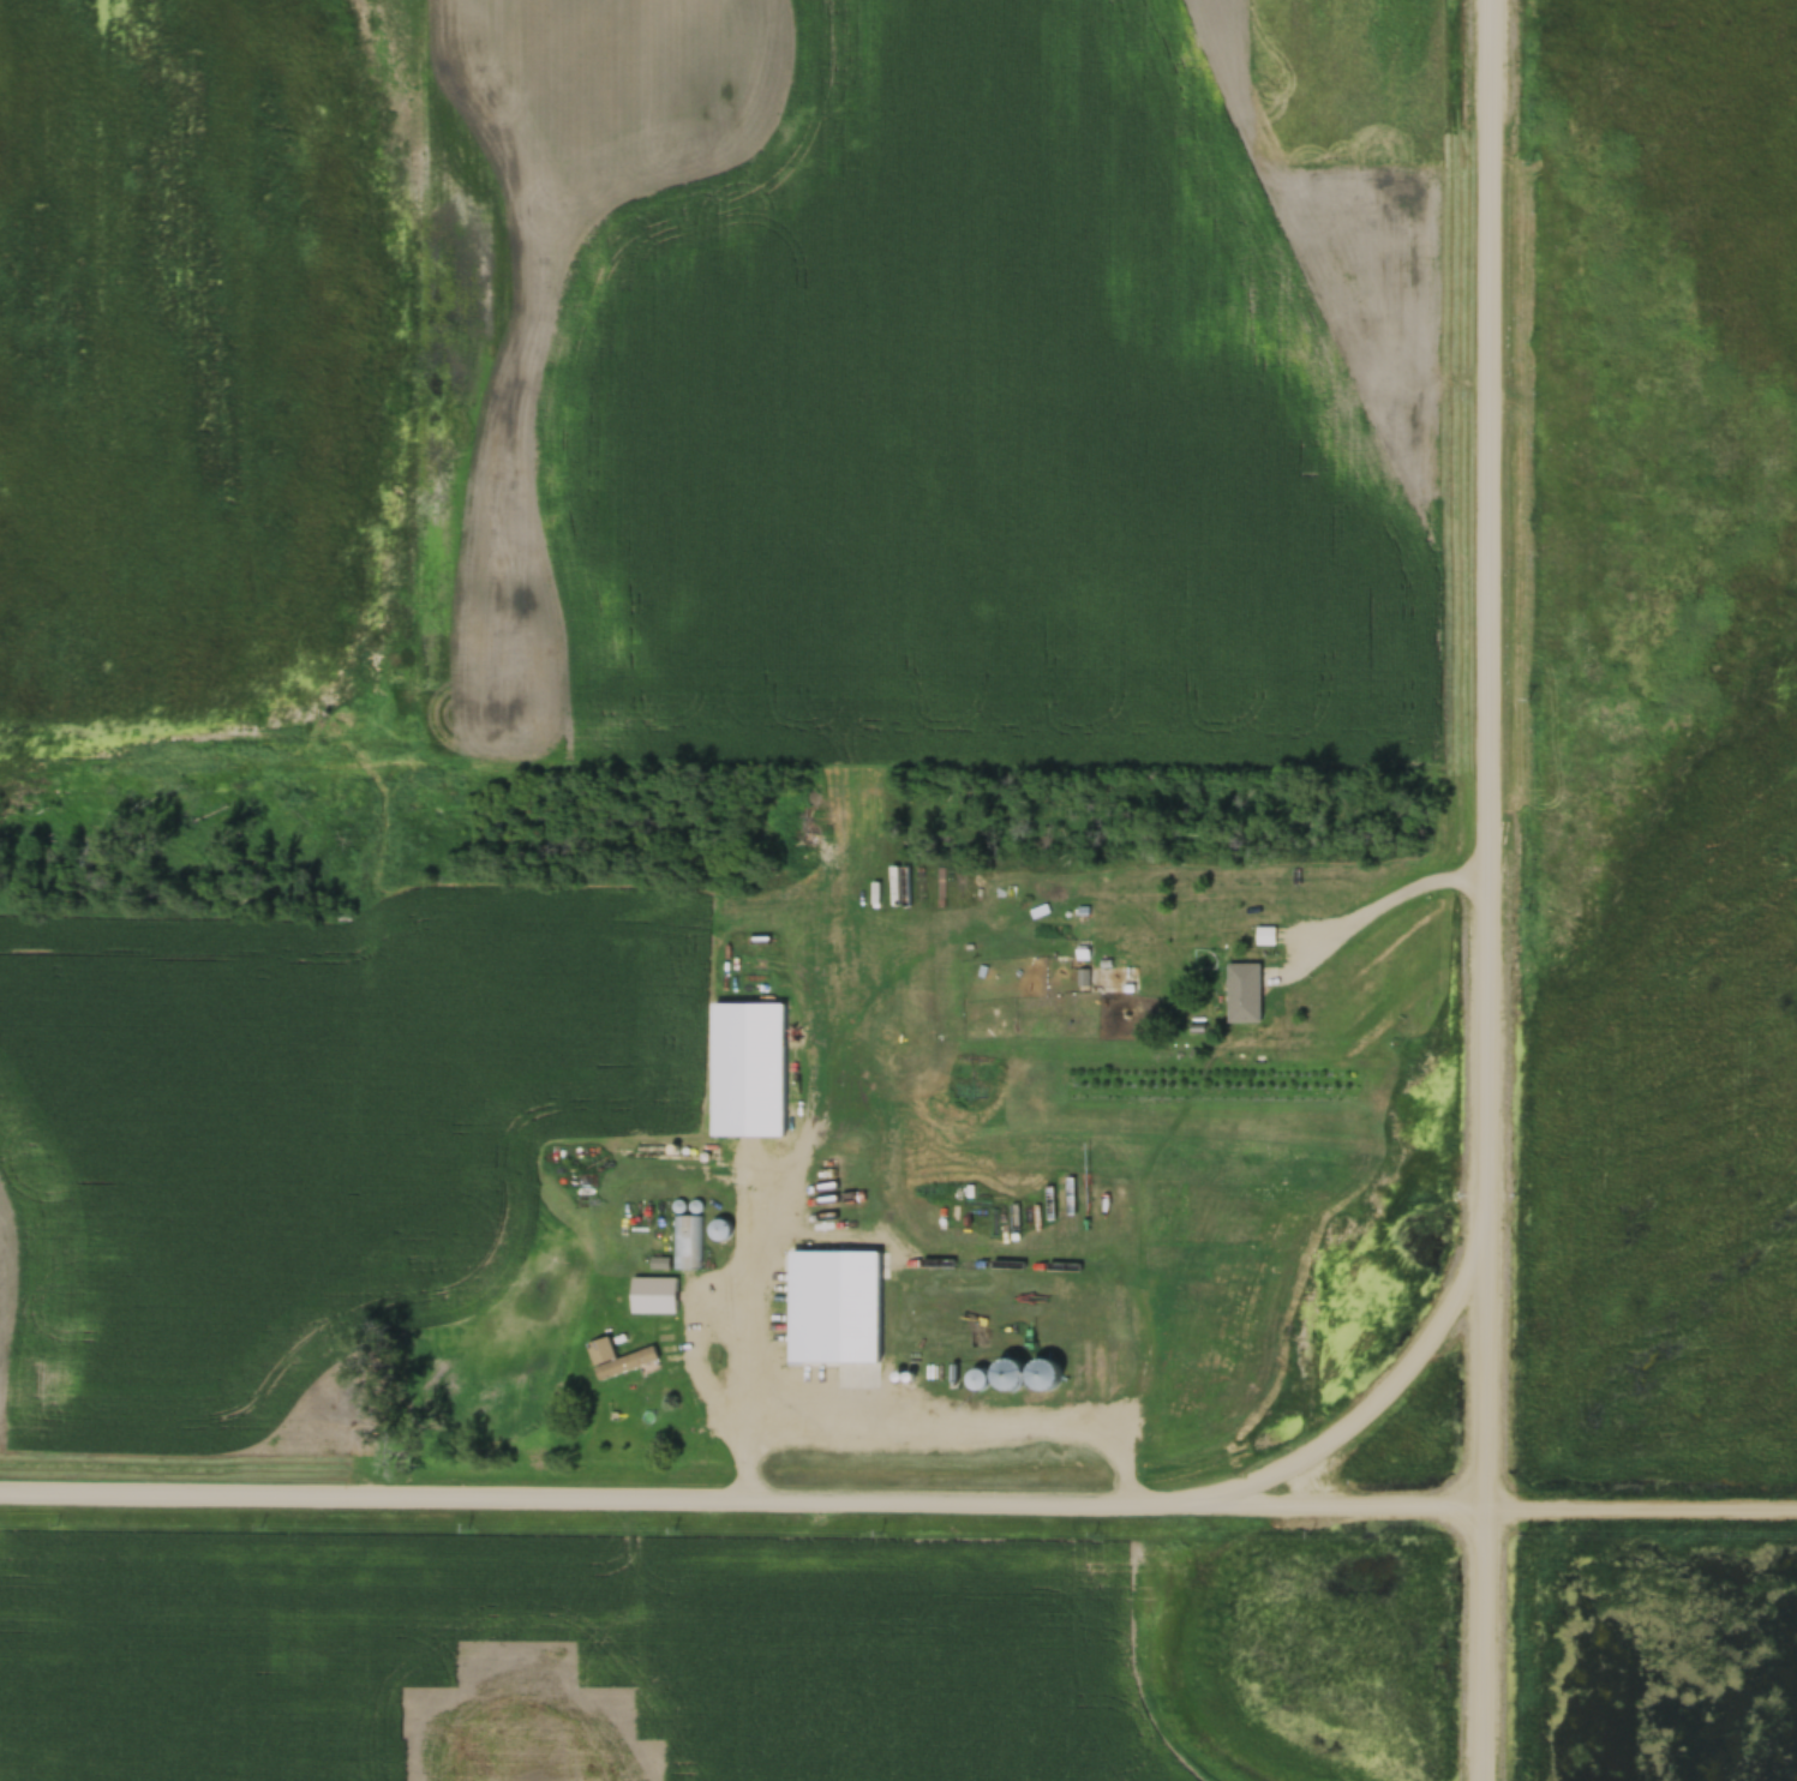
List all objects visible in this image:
road: (1485, 890)
building: (1264, 934)
building: (1242, 990)
building: (1389, 1157)
building: (1391, 1180)
building: (718, 1227)
building: (684, 1240)
building: (653, 1293)
building: (616, 1356)
building: (826, 1369)
road: (1348, 1427)
road: (898, 1504)

